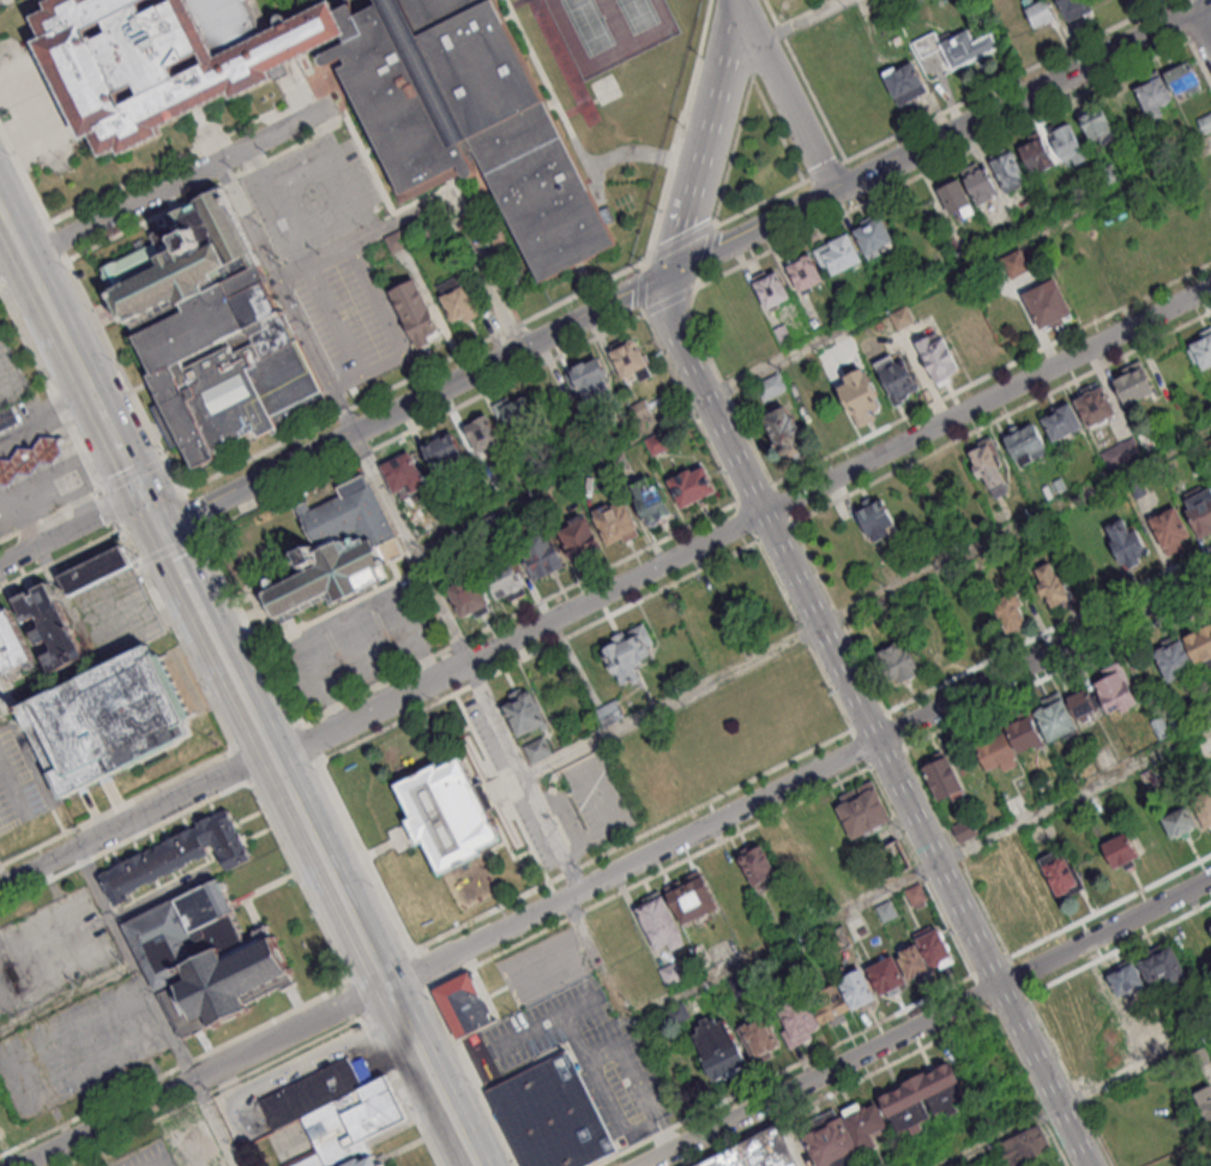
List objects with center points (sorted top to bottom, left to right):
road: (1, 0)
building: (1072, 7)
building: (1036, 11)
road: (805, 22)
road: (1204, 25)
park: (609, 29)
road: (1201, 35)
building: (958, 44)
building: (165, 60)
building: (1181, 78)
road: (805, 79)
road: (1006, 79)
building: (903, 80)
road: (717, 84)
road: (305, 90)
building: (1152, 94)
road: (789, 95)
building: (471, 121)
road: (567, 121)
building: (1204, 121)
building: (1097, 125)
road: (681, 128)
road: (939, 139)
road: (734, 143)
building: (1067, 143)
building: (1210, 150)
building: (1035, 151)
road: (179, 160)
road: (944, 163)
building: (1005, 168)
road: (824, 170)
road: (25, 178)
road: (180, 179)
building: (978, 181)
road: (206, 188)
building: (956, 198)
road: (422, 210)
road: (681, 221)
building: (426, 227)
building: (874, 236)
road: (685, 240)
road: (59, 241)
building: (394, 241)
road: (338, 251)
building: (837, 252)
road: (11, 253)
building: (180, 254)
road: (704, 256)
parking lot: (321, 259)
building: (1016, 262)
road: (641, 266)
building: (803, 271)
road: (482, 275)
traffic signals: (669, 275)
road: (40, 286)
building: (770, 288)
road: (639, 290)
road: (287, 295)
road: (667, 299)
building: (457, 300)
building: (1049, 306)
building: (416, 311)
building: (900, 317)
building: (879, 324)
building: (781, 332)
road: (811, 341)
building: (845, 343)
building: (1200, 347)
road: (510, 355)
building: (629, 359)
building: (939, 362)
building: (228, 367)
road: (121, 372)
road: (417, 372)
parking lot: (12, 373)
road: (86, 380)
building: (594, 383)
building: (897, 384)
building: (1132, 384)
building: (769, 385)
road: (49, 387)
road: (724, 389)
building: (862, 402)
building: (1095, 404)
building: (641, 409)
building: (518, 413)
building: (8, 421)
building: (1061, 421)
building: (483, 434)
building: (784, 437)
building: (1146, 439)
building: (1025, 440)
building: (658, 441)
road: (118, 443)
building: (445, 451)
building: (1121, 452)
building: (620, 462)
building: (29, 463)
building: (989, 467)
building: (403, 471)
road: (132, 476)
road: (255, 481)
building: (692, 485)
traffic signals: (143, 493)
building: (650, 498)
road: (108, 510)
road: (151, 511)
building: (1199, 511)
road: (192, 512)
road: (49, 516)
building: (347, 516)
building: (616, 521)
road: (742, 521)
building: (879, 527)
building: (1168, 527)
road: (71, 528)
traffic signals: (161, 529)
building: (580, 539)
building: (1125, 541)
road: (127, 546)
road: (411, 547)
building: (540, 549)
road: (170, 551)
road: (60, 559)
road: (182, 572)
building: (96, 573)
building: (504, 575)
building: (326, 576)
building: (1050, 579)
building: (468, 594)
road: (867, 601)
building: (1010, 611)
road: (603, 615)
parking lot: (116, 617)
building: (52, 630)
road: (210, 630)
road: (803, 637)
parking lot: (357, 643)
building: (1200, 645)
building: (12, 649)
building: (628, 656)
building: (1174, 657)
building: (896, 660)
road: (193, 673)
building: (1115, 687)
road: (6, 699)
building: (1080, 704)
building: (525, 710)
road: (6, 714)
building: (609, 714)
building: (1054, 716)
road: (864, 722)
building: (108, 723)
road: (384, 726)
building: (1159, 726)
building: (1023, 732)
road: (306, 743)
building: (995, 750)
building: (538, 751)
building: (942, 775)
building: (1210, 775)
road: (524, 777)
road: (799, 779)
parking lot: (20, 780)
building: (1151, 782)
road: (590, 785)
road: (500, 786)
building: (1122, 789)
parking lot: (555, 792)
road: (578, 792)
road: (560, 800)
road: (116, 806)
building: (1203, 807)
road: (550, 809)
building: (864, 811)
road: (565, 815)
road: (134, 819)
building: (448, 819)
building: (1180, 819)
road: (619, 824)
building: (963, 828)
road: (561, 831)
building: (1149, 834)
road: (631, 839)
road: (727, 840)
building: (1120, 849)
road: (571, 851)
building: (180, 855)
building: (755, 861)
building: (892, 861)
road: (928, 870)
road: (921, 871)
building: (1061, 873)
road: (4, 878)
building: (915, 895)
building: (691, 896)
road: (345, 904)
building: (1004, 907)
building: (888, 912)
road: (577, 915)
building: (659, 919)
building: (1210, 925)
road: (324, 931)
building: (842, 940)
building: (933, 945)
parking lot: (52, 950)
road: (500, 954)
building: (210, 958)
building: (912, 962)
building: (1161, 962)
road: (134, 964)
road: (601, 967)
parking lot: (546, 968)
road: (421, 969)
building: (671, 973)
building: (884, 973)
building: (765, 979)
building: (1126, 979)
building: (856, 986)
building: (745, 987)
road: (356, 996)
road: (984, 996)
road: (67, 998)
building: (831, 1002)
building: (468, 1008)
building: (679, 1012)
road: (596, 1014)
building: (799, 1018)
road: (924, 1022)
building: (759, 1036)
parking lot: (80, 1047)
building: (719, 1053)
parking lot: (591, 1056)
road: (787, 1071)
road: (204, 1075)
road: (474, 1077)
road: (212, 1089)
road: (403, 1089)
road: (1030, 1089)
road: (842, 1090)
building: (313, 1094)
building: (922, 1098)
road: (1076, 1098)
building: (1204, 1101)
road: (649, 1110)
building: (553, 1117)
building: (2, 1120)
road: (213, 1123)
building: (868, 1123)
building: (353, 1125)
road: (794, 1131)
building: (829, 1138)
building: (195, 1144)
building: (1026, 1149)
building: (757, 1152)
parking lot: (147, 1156)
road: (163, 1161)
building: (366, 1164)

